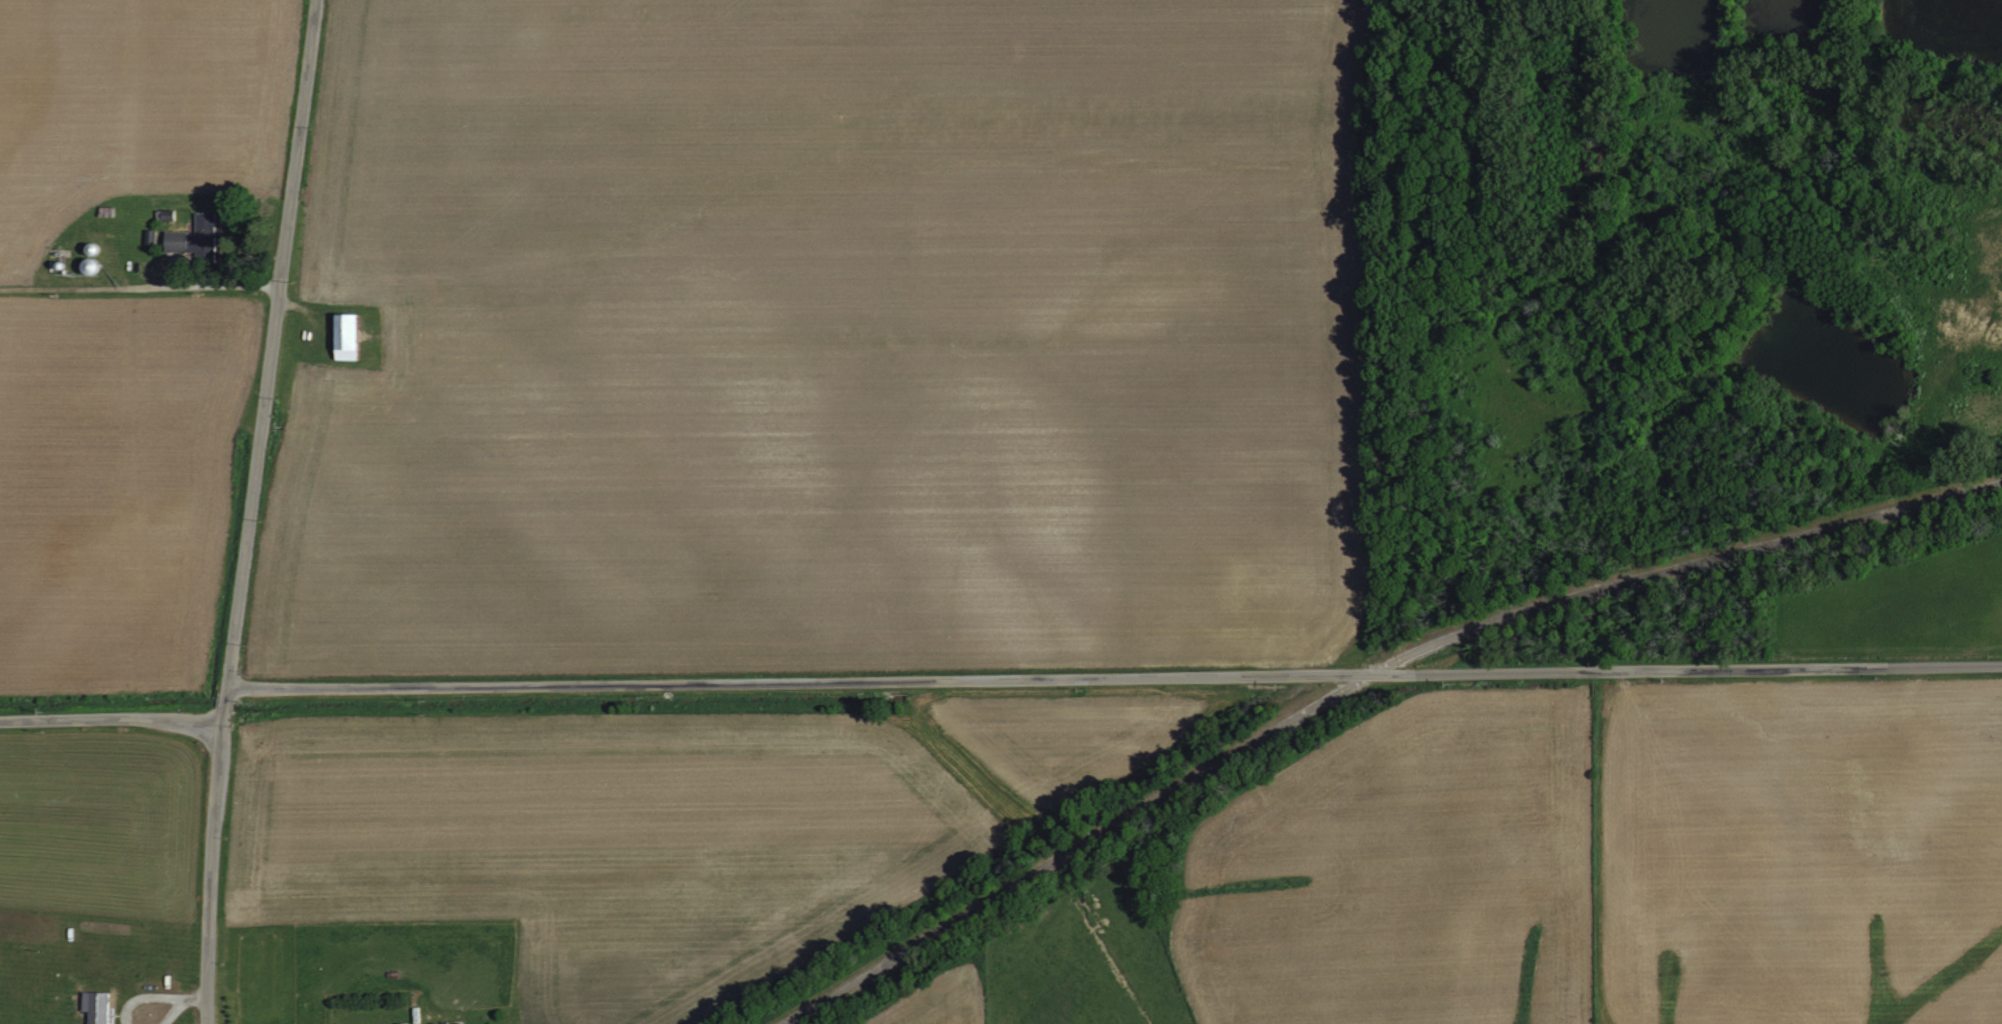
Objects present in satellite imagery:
building: (194, 238)
road: (140, 276)
building: (344, 336)
road: (248, 510)
road: (1114, 674)
road: (1359, 678)
road: (110, 716)
building: (94, 1006)
building: (400, 1022)

